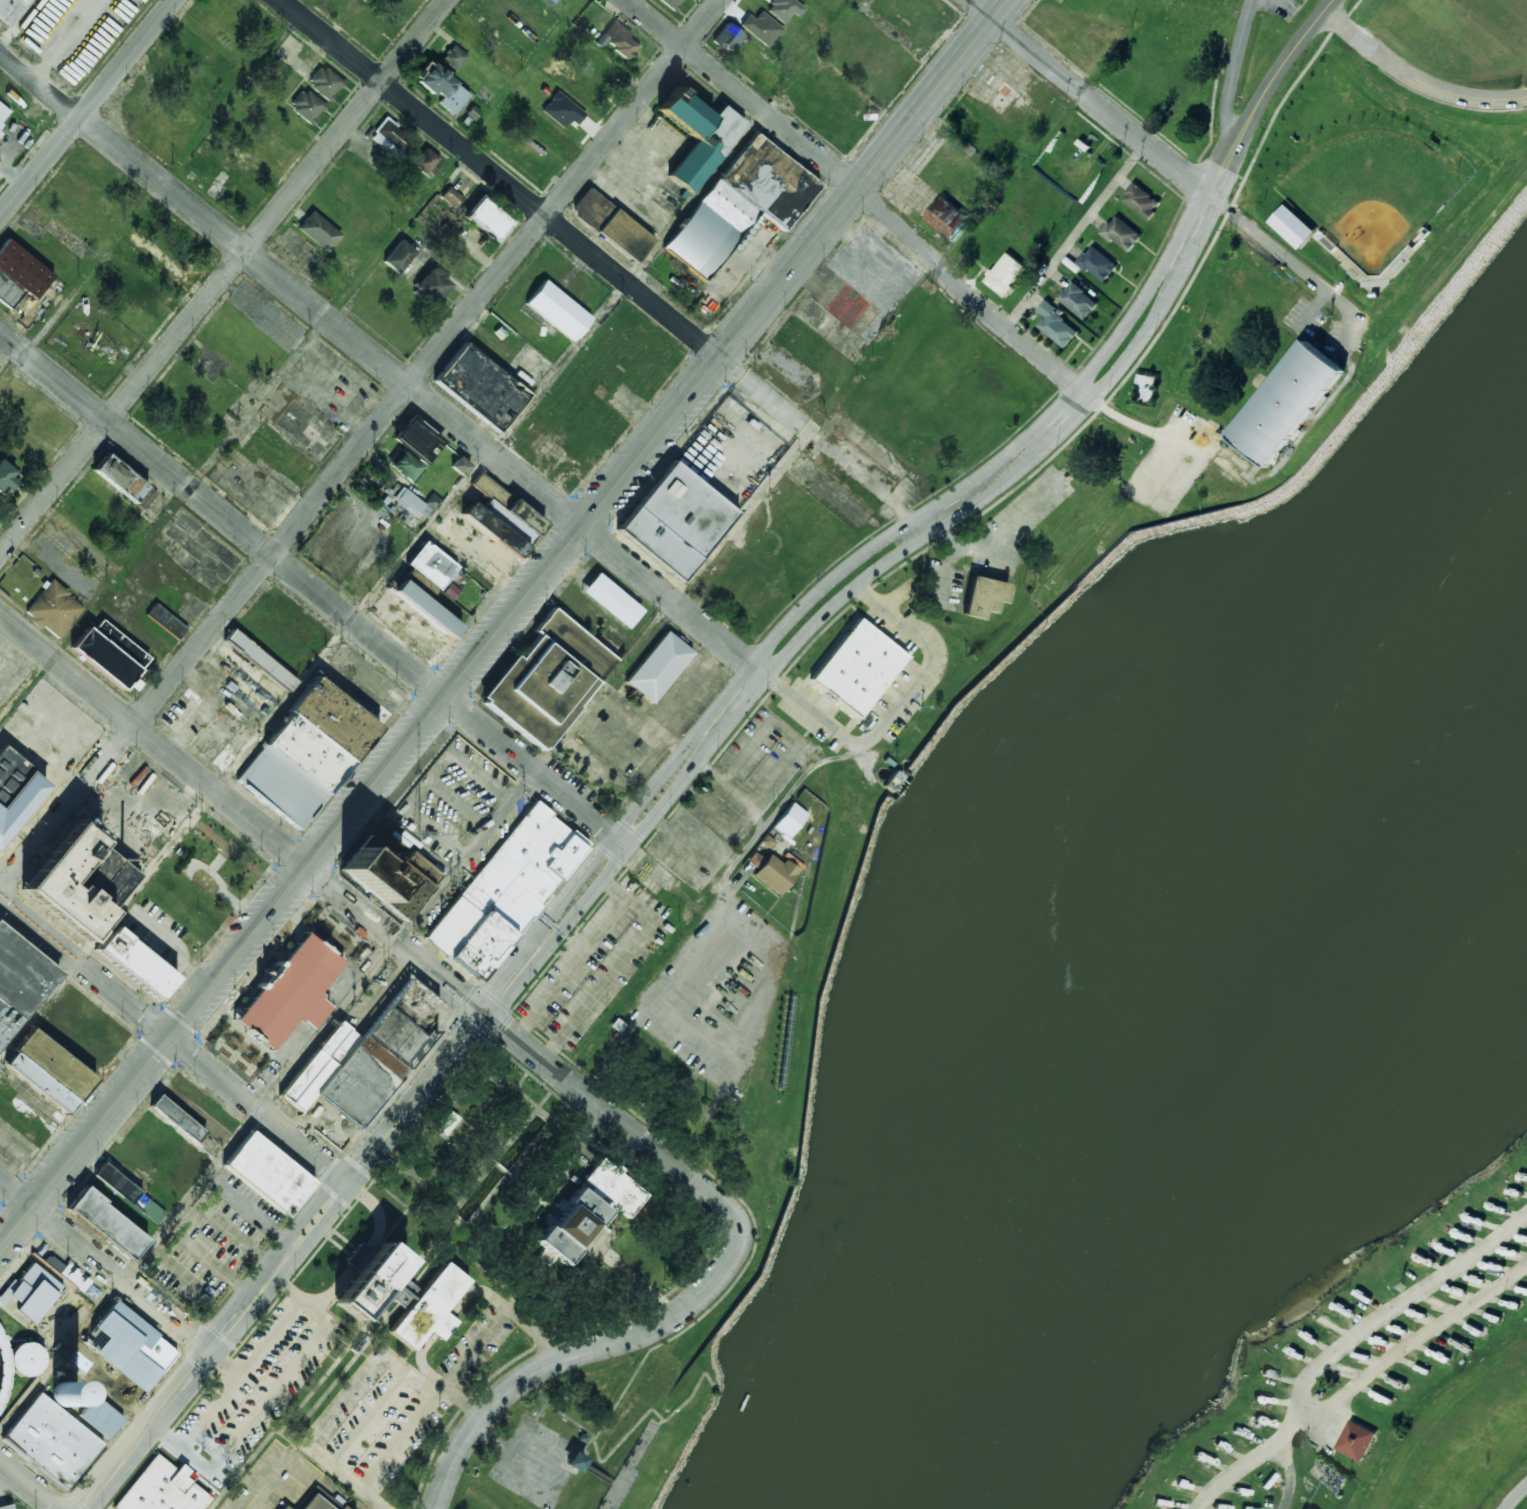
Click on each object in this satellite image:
building: (551, 1)
building: (672, 3)
building: (11, 9)
road: (19, 24)
building: (728, 37)
building: (617, 40)
road: (1290, 55)
building: (454, 57)
road: (1237, 72)
road: (1417, 77)
building: (324, 83)
building: (441, 87)
road: (933, 94)
building: (307, 106)
road: (86, 107)
building: (562, 111)
building: (3, 113)
building: (0, 133)
building: (697, 138)
road: (1223, 146)
road: (1164, 153)
road: (1237, 156)
building: (426, 163)
road: (863, 194)
building: (451, 197)
building: (1141, 201)
building: (739, 205)
building: (947, 217)
road: (547, 219)
building: (487, 220)
building: (611, 225)
building: (1292, 226)
building: (318, 231)
building: (1122, 233)
building: (739, 243)
building: (398, 256)
building: (1098, 263)
building: (19, 274)
building: (1005, 274)
road: (223, 276)
building: (431, 286)
building: (1079, 300)
building: (557, 311)
building: (1057, 325)
road: (292, 360)
building: (480, 387)
road: (414, 392)
building: (1285, 402)
building: (417, 440)
road: (360, 445)
building: (404, 465)
building: (460, 466)
building: (6, 477)
building: (119, 478)
building: (146, 499)
building: (432, 501)
building: (411, 504)
building: (502, 518)
building: (674, 521)
road: (428, 529)
road: (916, 530)
building: (431, 565)
road: (313, 590)
building: (983, 597)
building: (611, 601)
building: (425, 609)
building: (53, 610)
building: (165, 621)
building: (109, 654)
building: (260, 660)
building: (658, 667)
building: (857, 668)
building: (547, 680)
road: (428, 714)
building: (306, 753)
building: (15, 791)
road: (668, 794)
building: (788, 820)
road: (616, 825)
building: (774, 874)
building: (390, 877)
building: (78, 882)
building: (504, 887)
road: (358, 909)
building: (135, 963)
building: (19, 981)
building: (289, 992)
road: (174, 1042)
building: (367, 1057)
building: (48, 1071)
building: (176, 1118)
building: (446, 1122)
building: (268, 1174)
building: (129, 1193)
building: (590, 1208)
building: (106, 1224)
road: (108, 1267)
road: (355, 1267)
road: (129, 1271)
building: (68, 1274)
building: (30, 1293)
building: (400, 1294)
road: (465, 1298)
road: (1397, 1312)
road: (592, 1348)
road: (1414, 1350)
road: (262, 1351)
building: (26, 1359)
road: (281, 1385)
road: (350, 1391)
building: (64, 1395)
building: (1355, 1440)
building: (52, 1441)
road: (181, 1454)
building: (575, 1462)
road: (1257, 1464)
road: (276, 1465)
road: (1299, 1468)
road: (123, 1471)
road: (29, 1484)
building: (162, 1489)
road: (1516, 1497)
building: (314, 1503)
road: (1209, 1505)
building: (6, 1507)
building: (283, 1507)
building: (342, 1507)
building: (1301, 1508)

